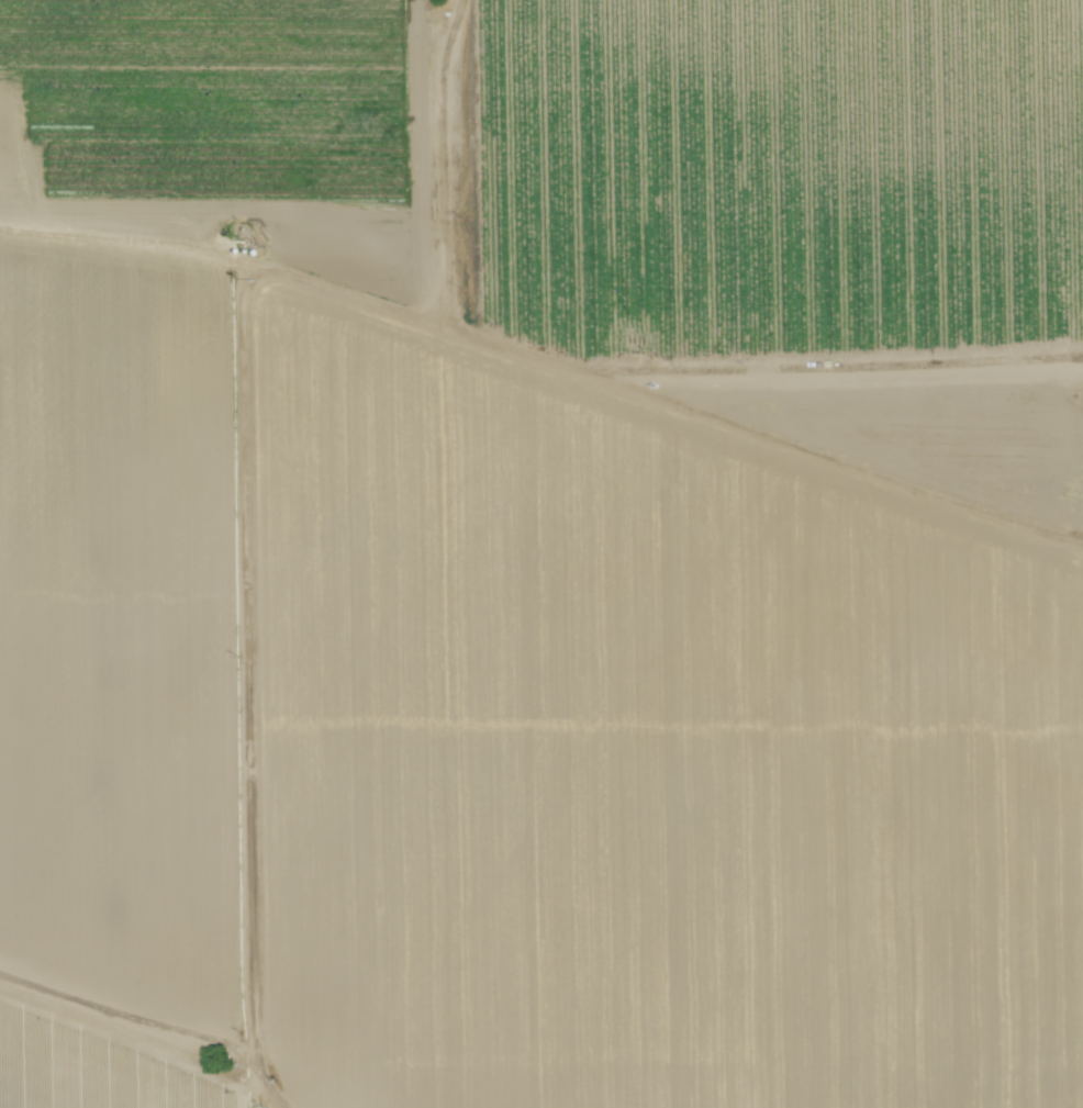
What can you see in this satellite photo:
road: (148, 1032)

